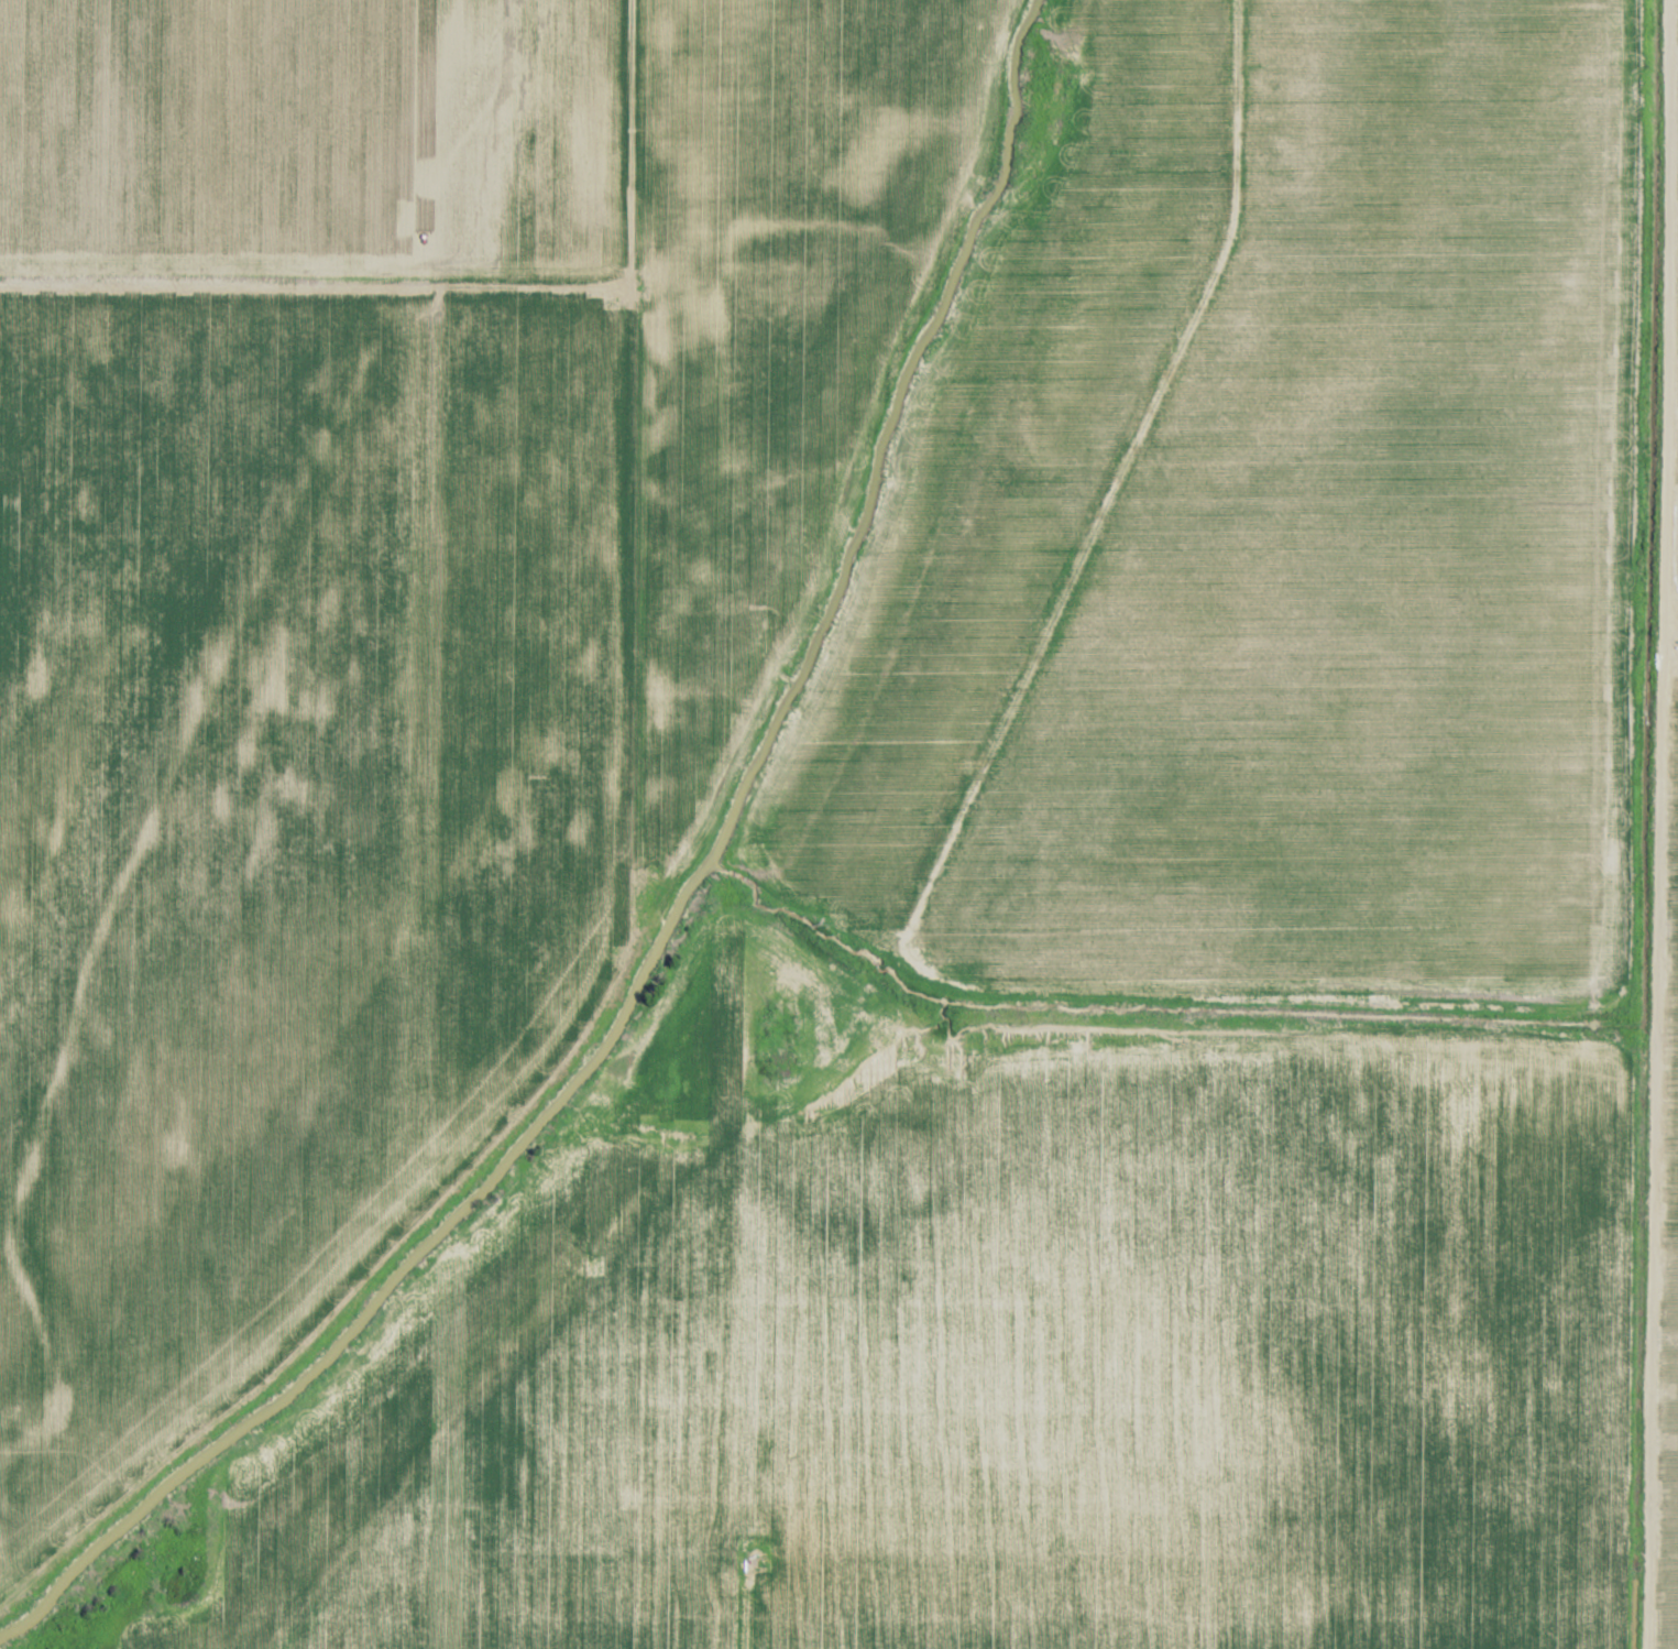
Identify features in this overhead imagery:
road: (578, 1300)

